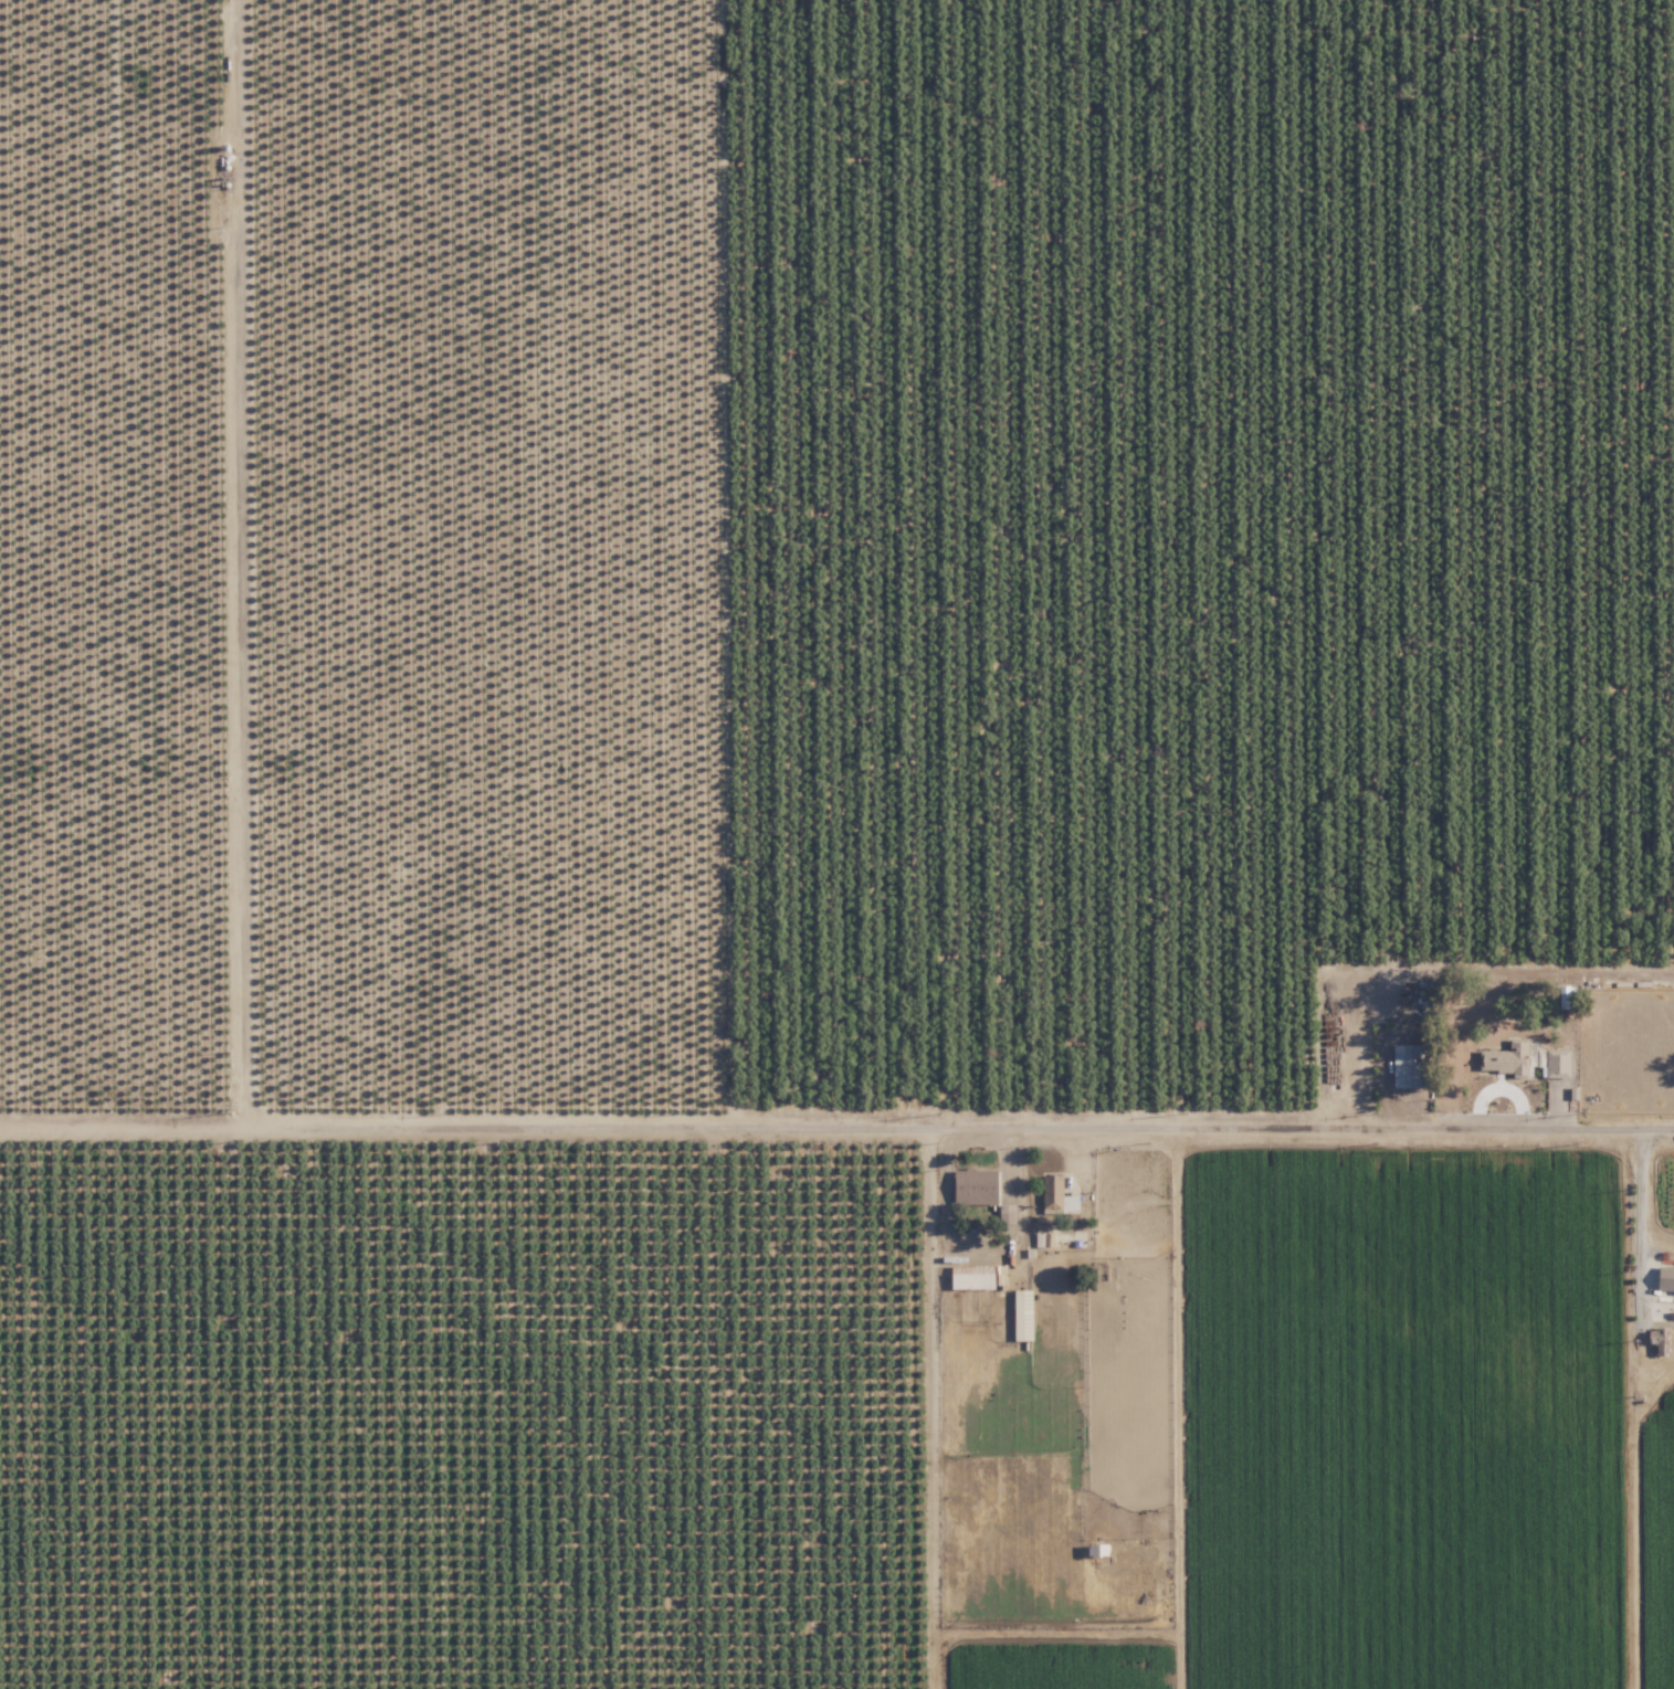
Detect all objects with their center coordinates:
building: (1522, 1059)
building: (1410, 1066)
road: (836, 1125)
building: (1057, 1194)
road: (1639, 1217)
building: (1044, 1239)
building: (971, 1278)
building: (1663, 1279)
crop: (465, 1419)
crop: (1061, 1421)
crop: (1434, 1423)
building: (1101, 1549)

